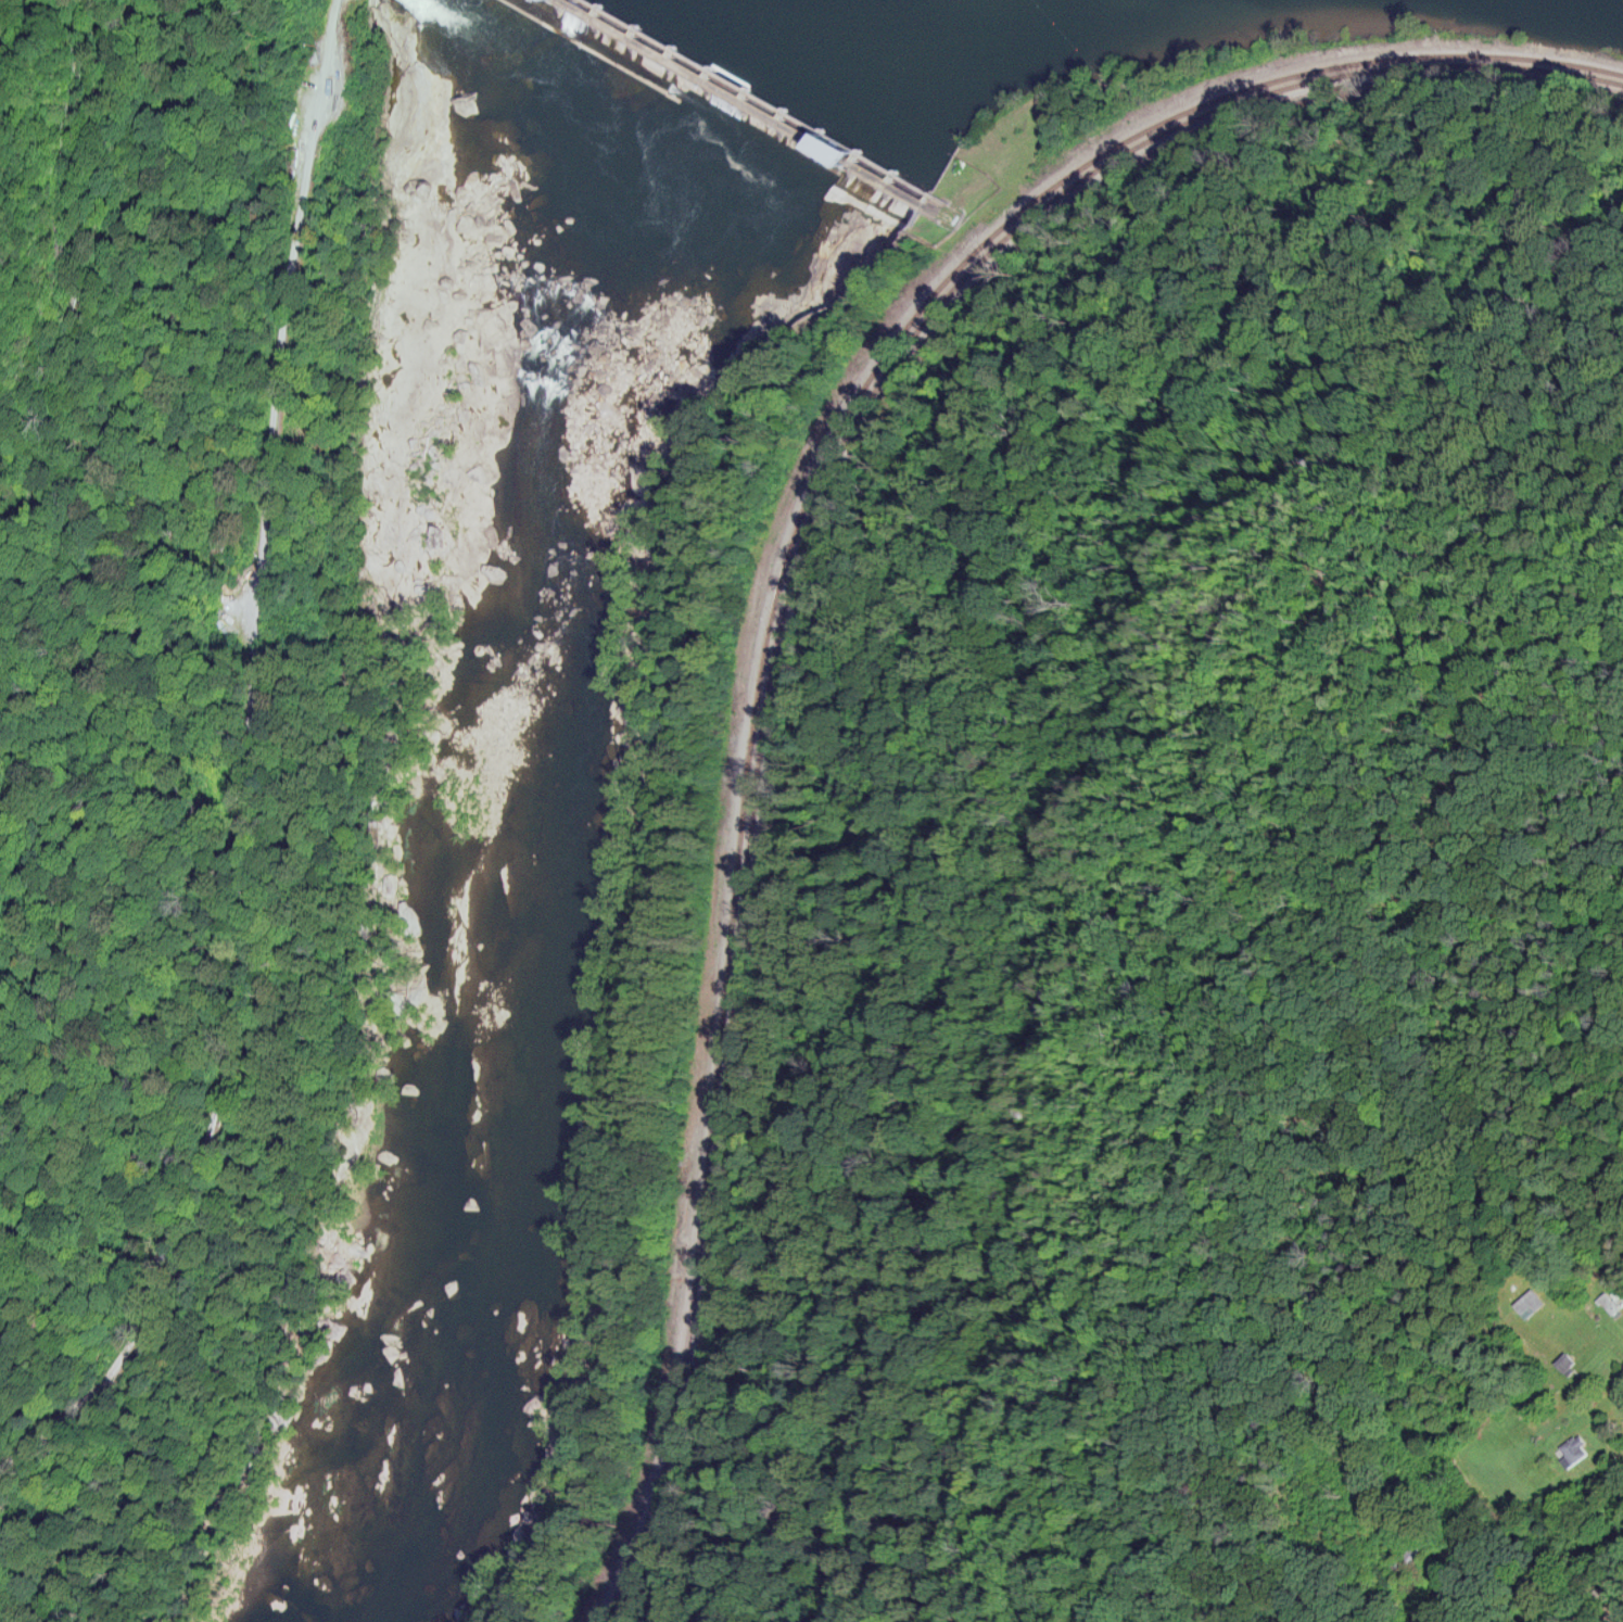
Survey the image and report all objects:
park: (1083, 53)
dam: (749, 110)
dam: (778, 110)
railway: (782, 566)
railway: (789, 573)
road: (229, 747)
river: (535, 812)
building: (1529, 1303)
building: (1610, 1304)
road: (1622, 1343)
building: (1565, 1360)
building: (1573, 1450)
road: (1584, 1598)

